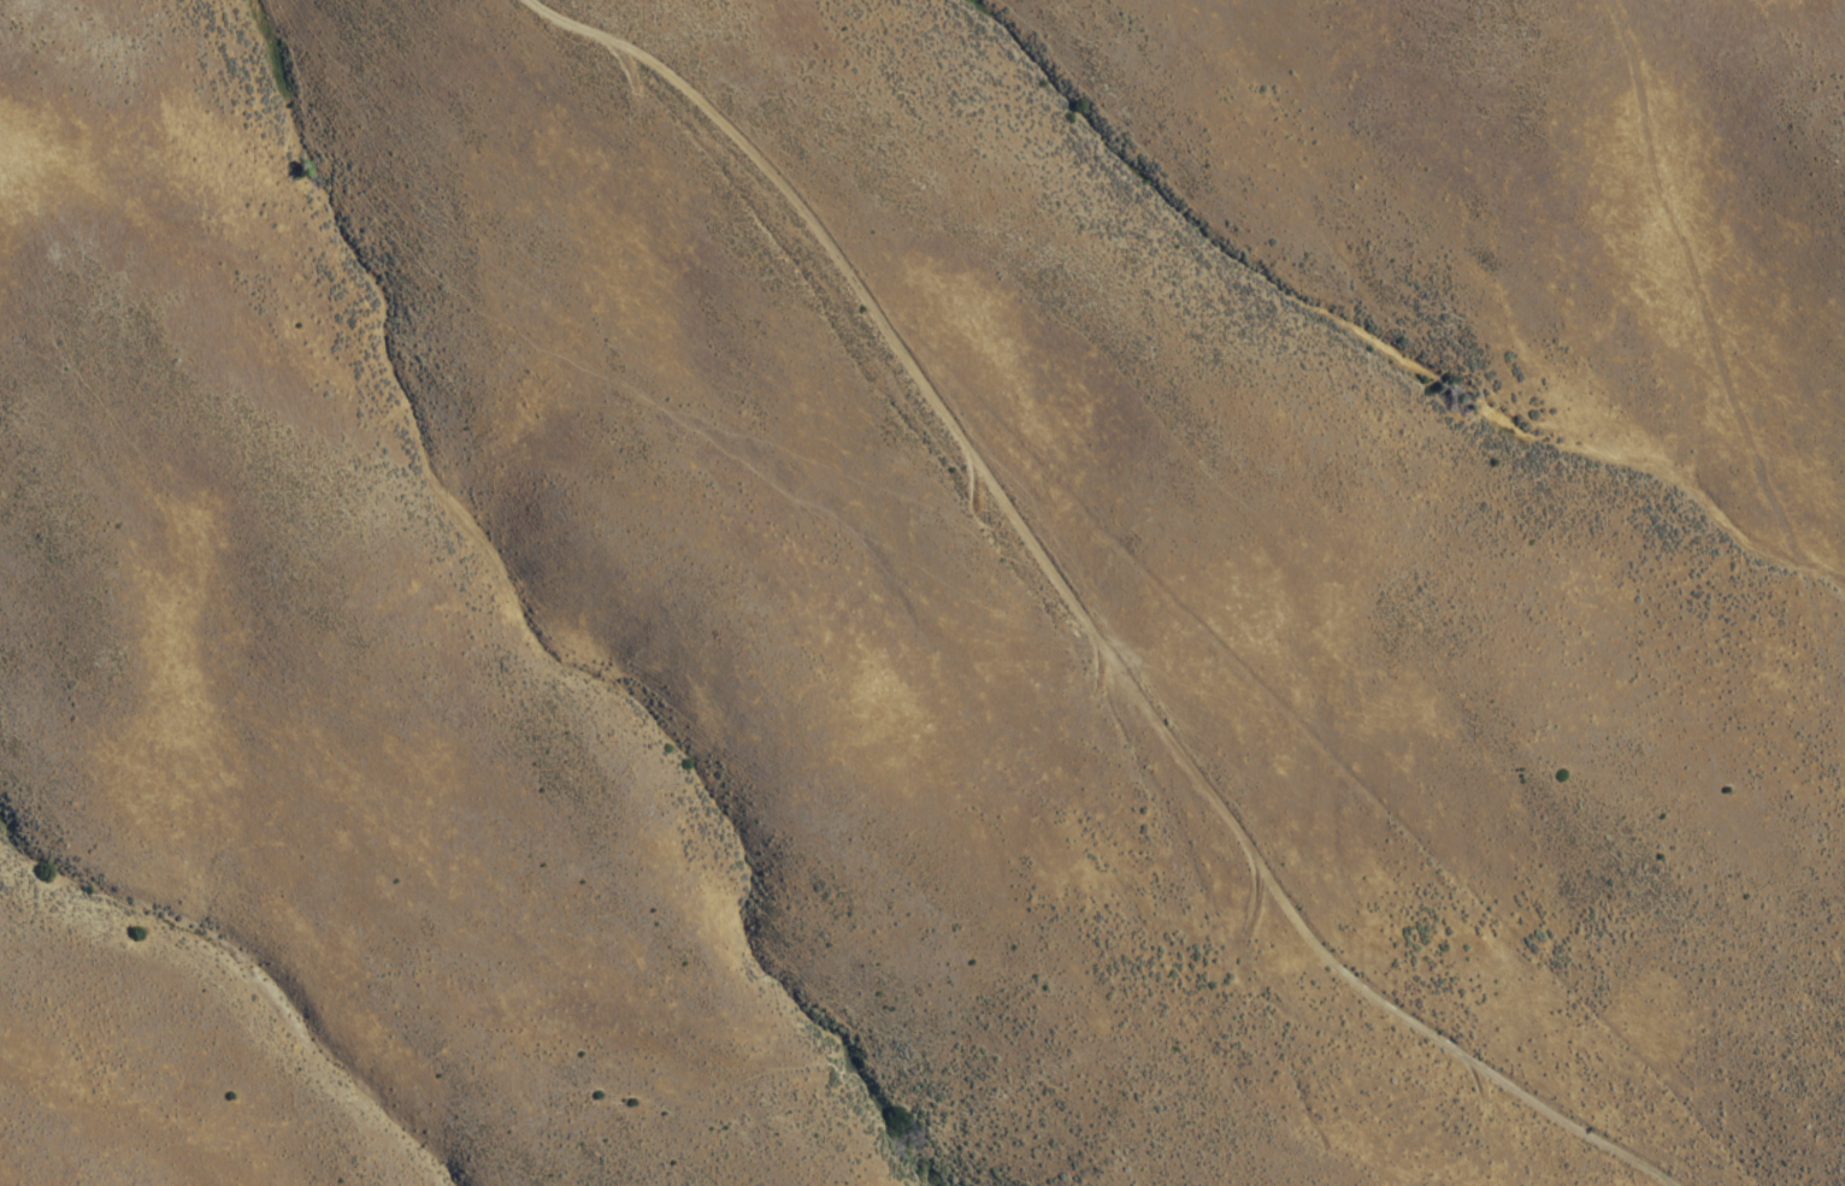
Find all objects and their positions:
road: (1083, 615)

